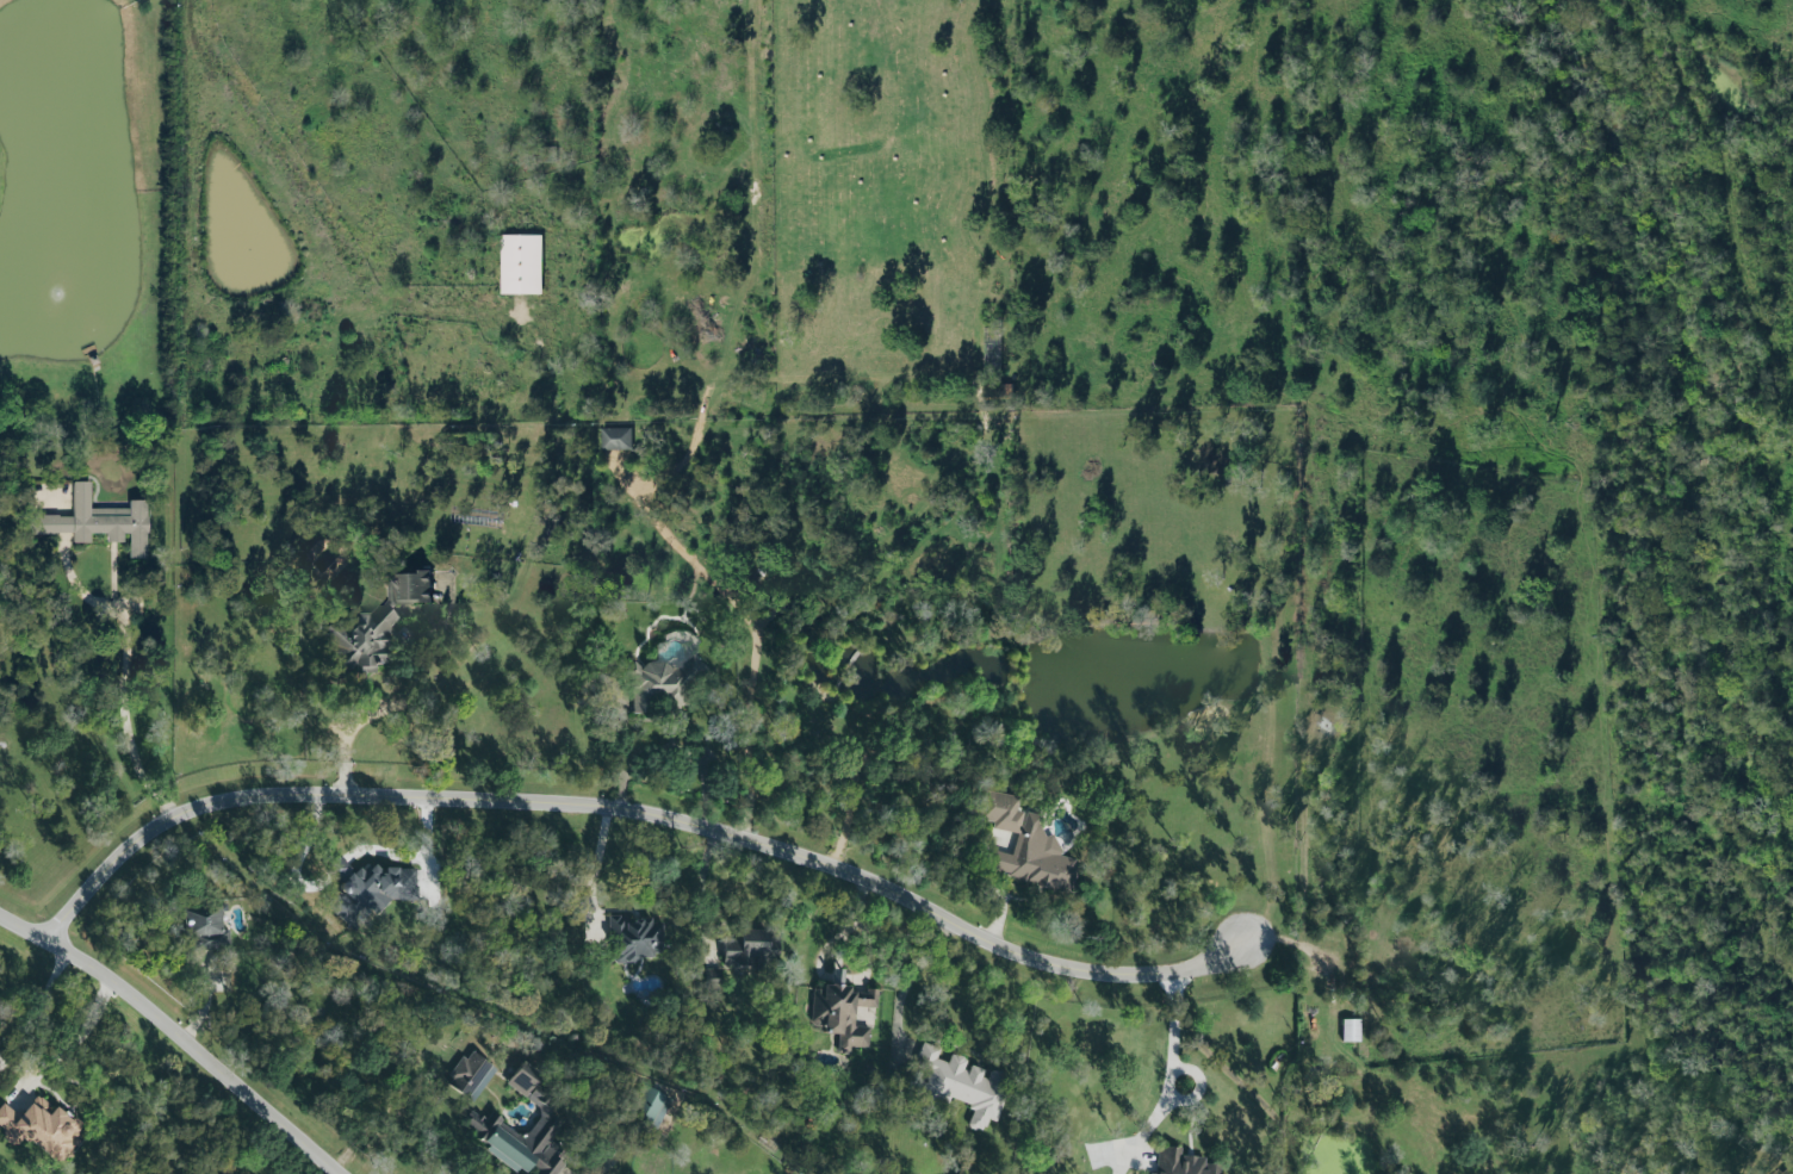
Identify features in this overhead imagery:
building: (519, 260)
building: (995, 386)
building: (614, 434)
building: (95, 518)
road: (509, 588)
building: (371, 627)
road: (755, 638)
road: (122, 676)
building: (658, 684)
road: (628, 747)
road: (688, 759)
road: (628, 796)
building: (1026, 846)
road: (596, 862)
road: (701, 883)
building: (368, 890)
road: (23, 927)
building: (205, 928)
building: (634, 939)
building: (747, 949)
road: (914, 970)
building: (712, 974)
building: (836, 976)
road: (42, 1008)
building: (842, 1014)
building: (1350, 1031)
road: (72, 1039)
road: (1174, 1050)
road: (204, 1055)
building: (467, 1074)
building: (482, 1083)
building: (964, 1085)
building: (649, 1108)
building: (484, 1124)
building: (42, 1128)
building: (1181, 1163)

